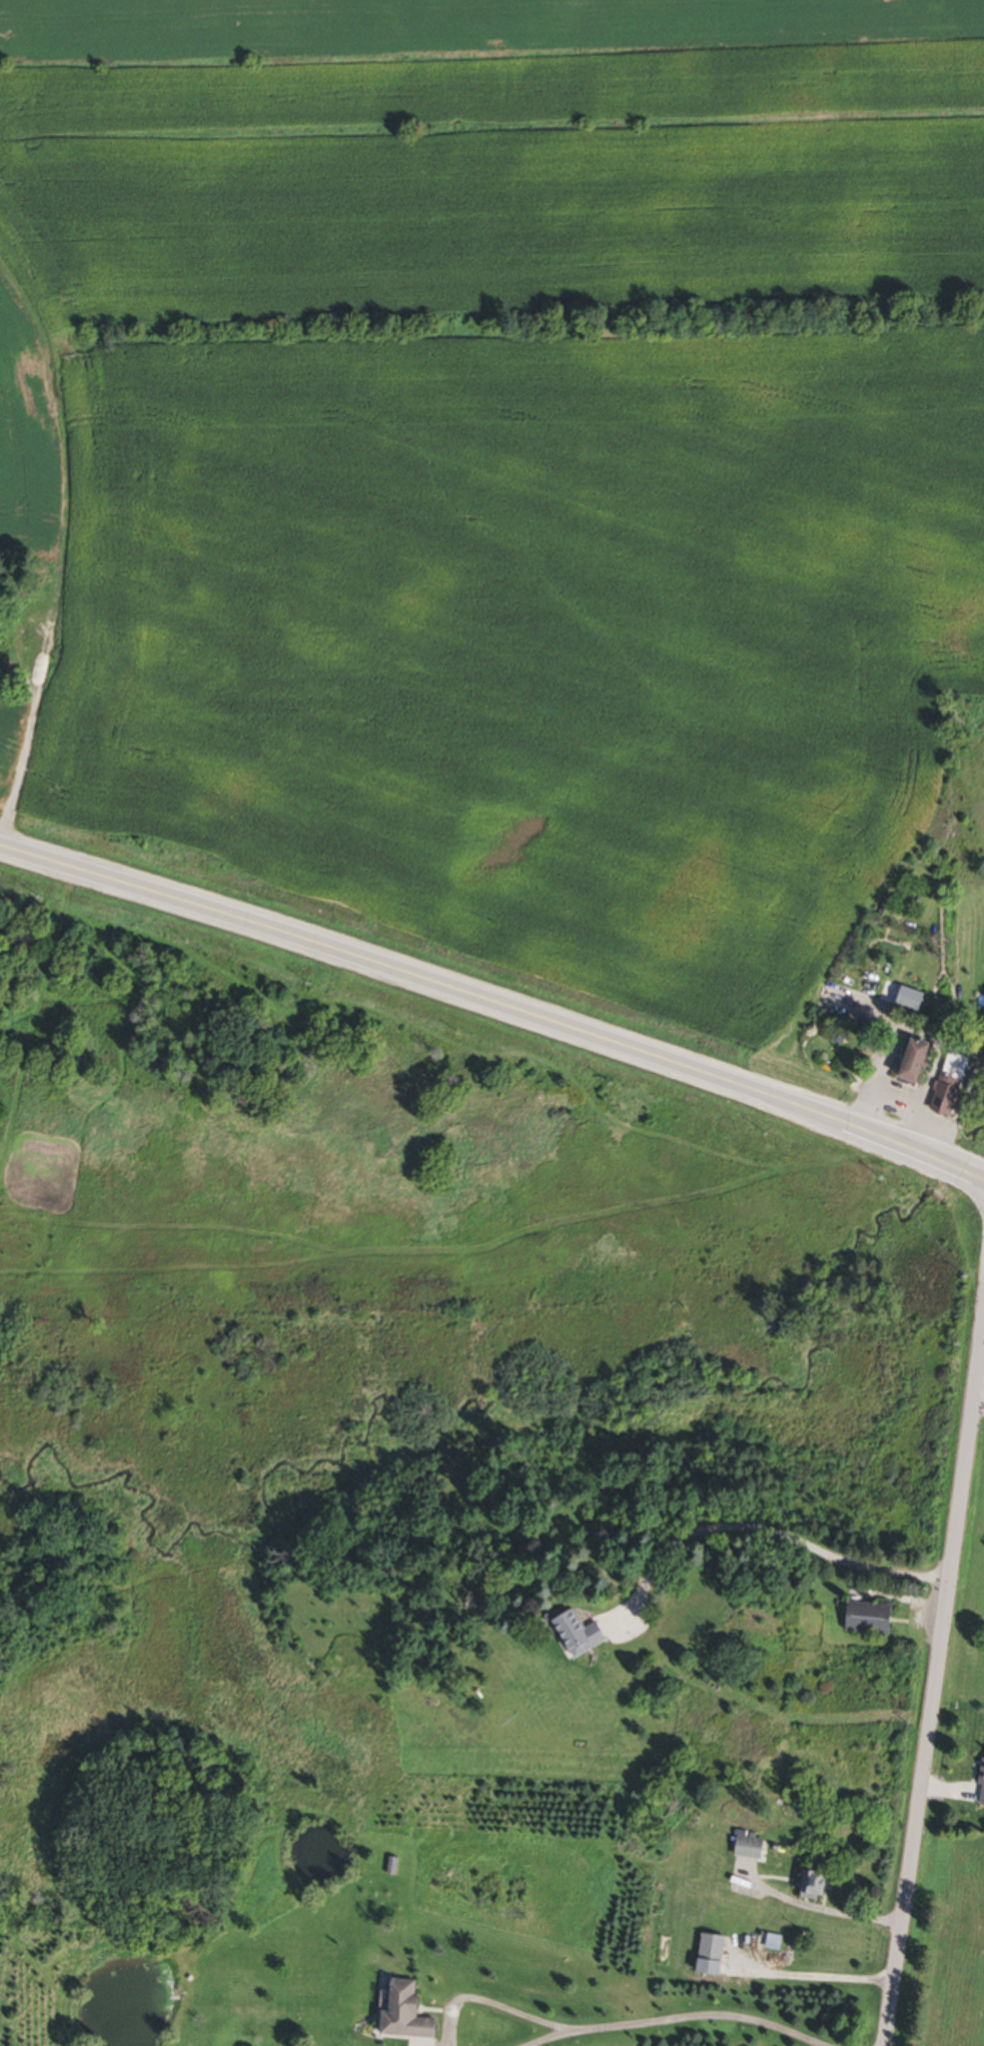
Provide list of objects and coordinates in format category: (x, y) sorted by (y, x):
road: (495, 1004)
building: (904, 1063)
building: (945, 1086)
road: (981, 1367)
road: (978, 1408)
road: (761, 1534)
building: (860, 1620)
building: (573, 1635)
road: (935, 1683)
building: (980, 1785)
building: (750, 1849)
building: (391, 1868)
building: (808, 1887)
road: (817, 1910)
road: (813, 1975)
road: (482, 1999)
building: (399, 2014)
road: (693, 2015)
road: (538, 2038)

